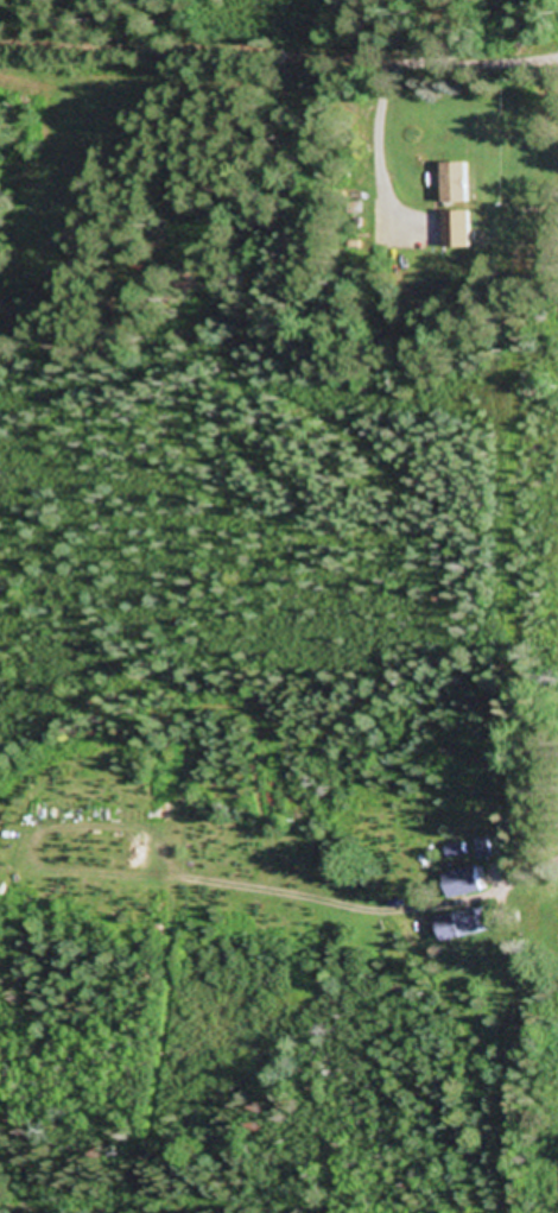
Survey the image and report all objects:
building: (458, 184)
building: (465, 883)
building: (467, 924)

